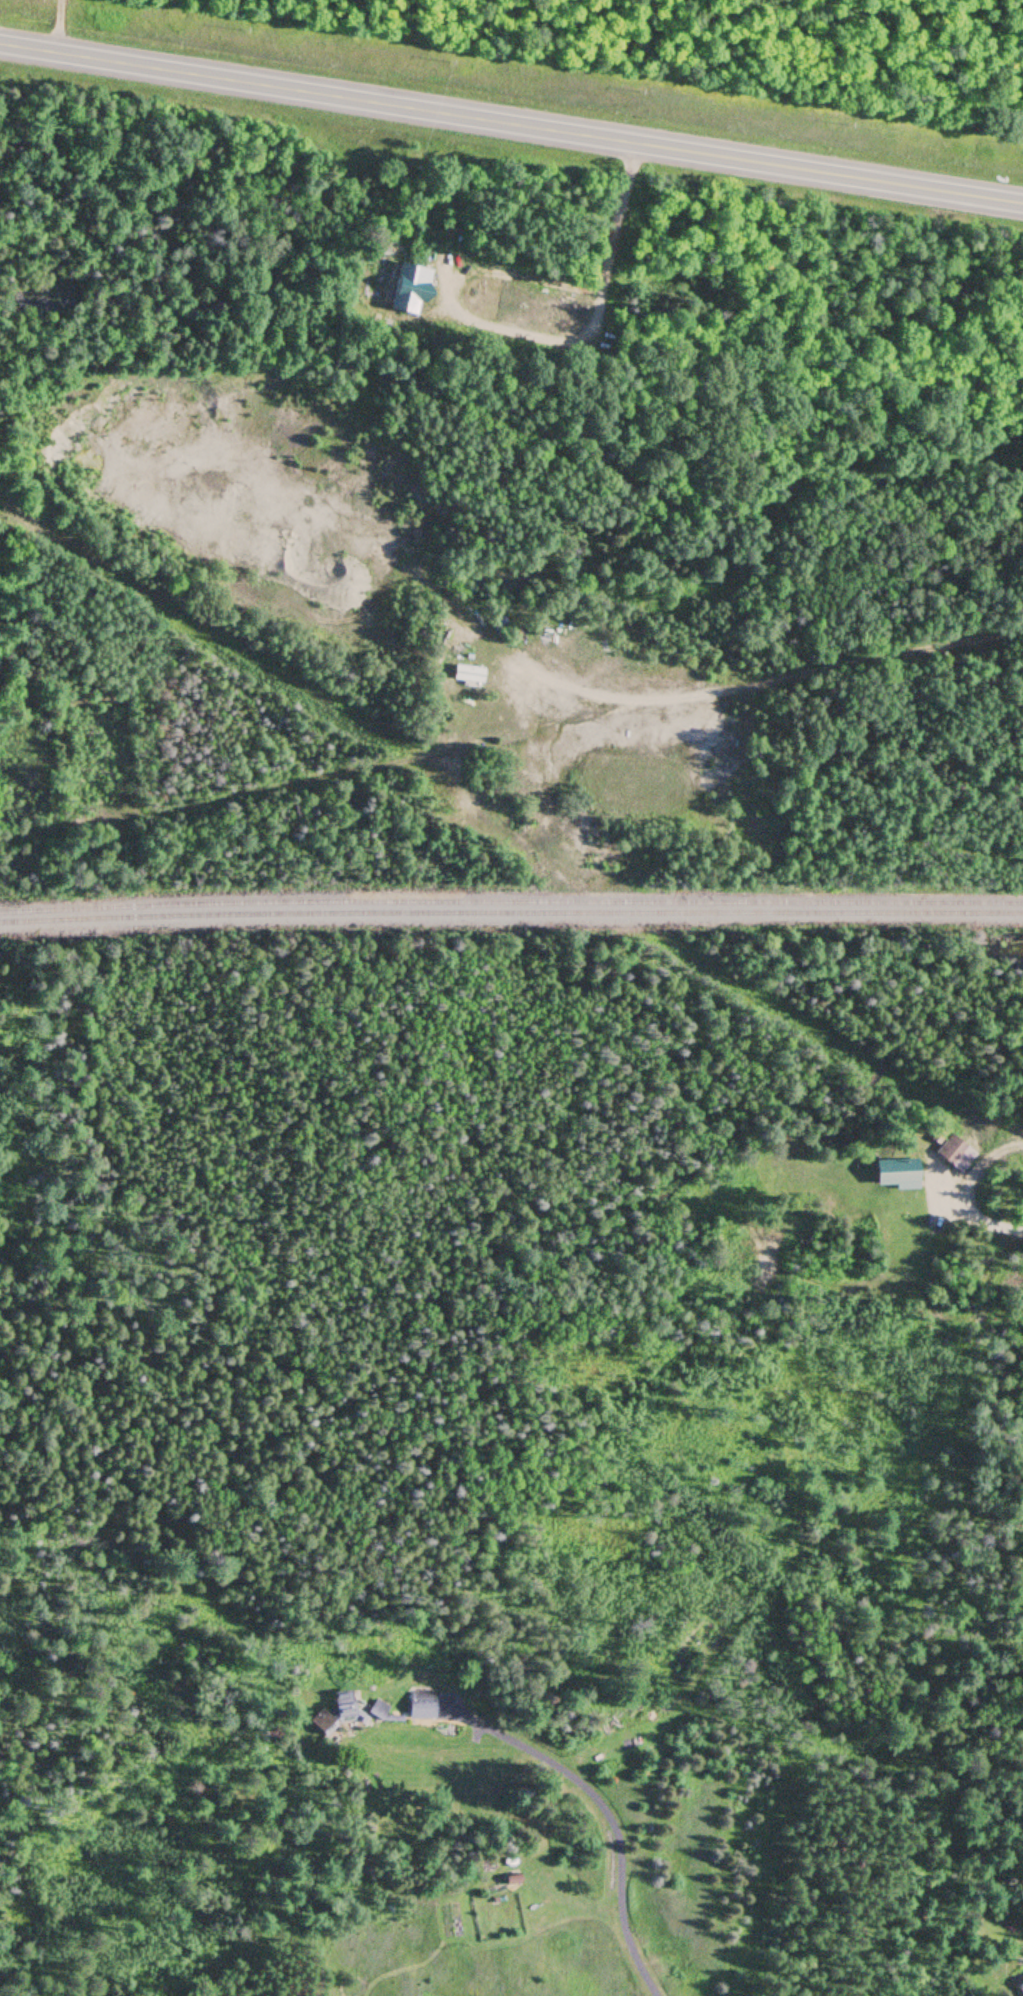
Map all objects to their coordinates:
road: (511, 124)
building: (406, 288)
building: (468, 675)
road: (512, 735)
railway: (511, 910)
building: (953, 1154)
building: (895, 1174)
road: (959, 1220)
building: (420, 1705)
building: (342, 1707)
building: (319, 1723)
road: (612, 1816)
building: (1020, 1989)

